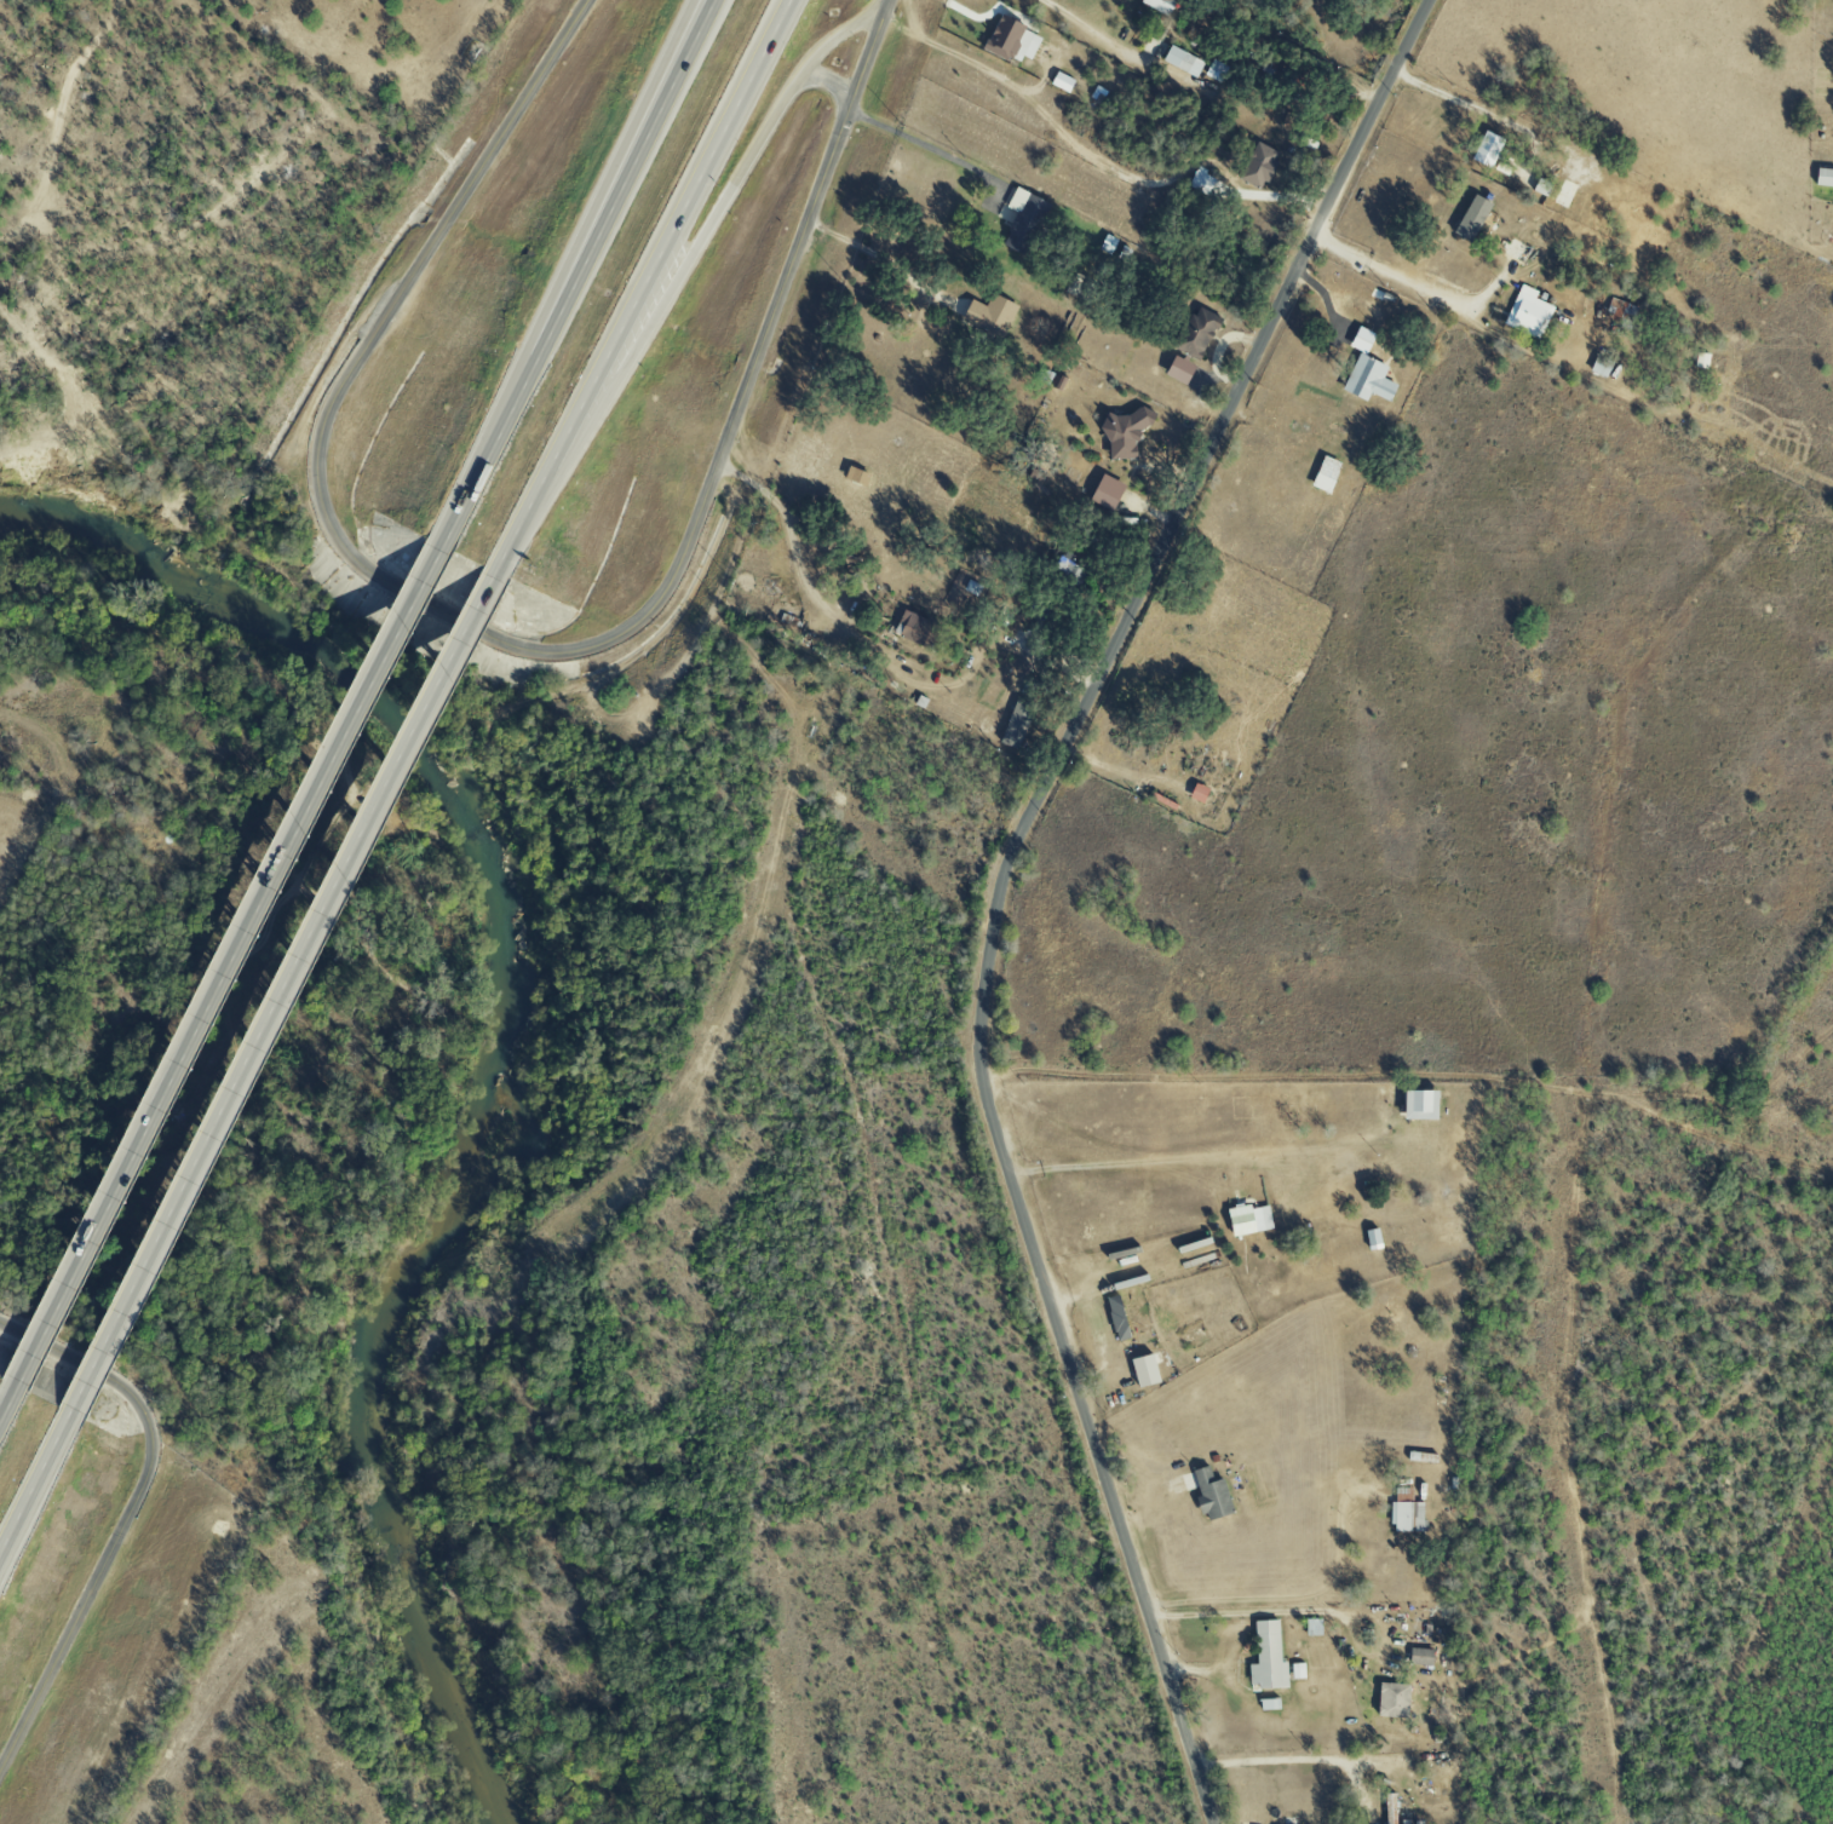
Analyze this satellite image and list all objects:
building: (1155, 4)
road: (1084, 25)
road: (839, 40)
building: (1011, 40)
building: (1182, 61)
building: (1061, 81)
road: (832, 82)
road: (1459, 100)
road: (915, 142)
building: (1486, 148)
building: (1258, 165)
building: (1823, 177)
road: (609, 184)
building: (1470, 217)
building: (1023, 218)
road: (663, 247)
road: (878, 254)
road: (575, 269)
road: (1391, 270)
road: (673, 287)
building: (1527, 312)
building: (989, 313)
building: (1195, 333)
building: (1599, 366)
building: (1178, 369)
building: (1367, 379)
building: (1121, 432)
building: (1325, 473)
building: (1104, 491)
road: (518, 529)
building: (1064, 562)
building: (919, 631)
road: (506, 645)
road: (878, 655)
building: (1016, 723)
road: (1000, 880)
road: (231, 963)
road: (285, 989)
river: (496, 1059)
road: (1410, 1075)
building: (1417, 1104)
road: (1128, 1161)
building: (1247, 1219)
building: (1371, 1238)
building: (1115, 1317)
building: (1153, 1358)
road: (10, 1404)
road: (35, 1486)
building: (1209, 1494)
road: (127, 1515)
building: (1407, 1515)
road: (1305, 1595)
road: (1272, 1609)
building: (1312, 1627)
building: (1419, 1656)
building: (1266, 1657)
building: (1391, 1699)
road: (1513, 1749)
building: (1392, 1808)

